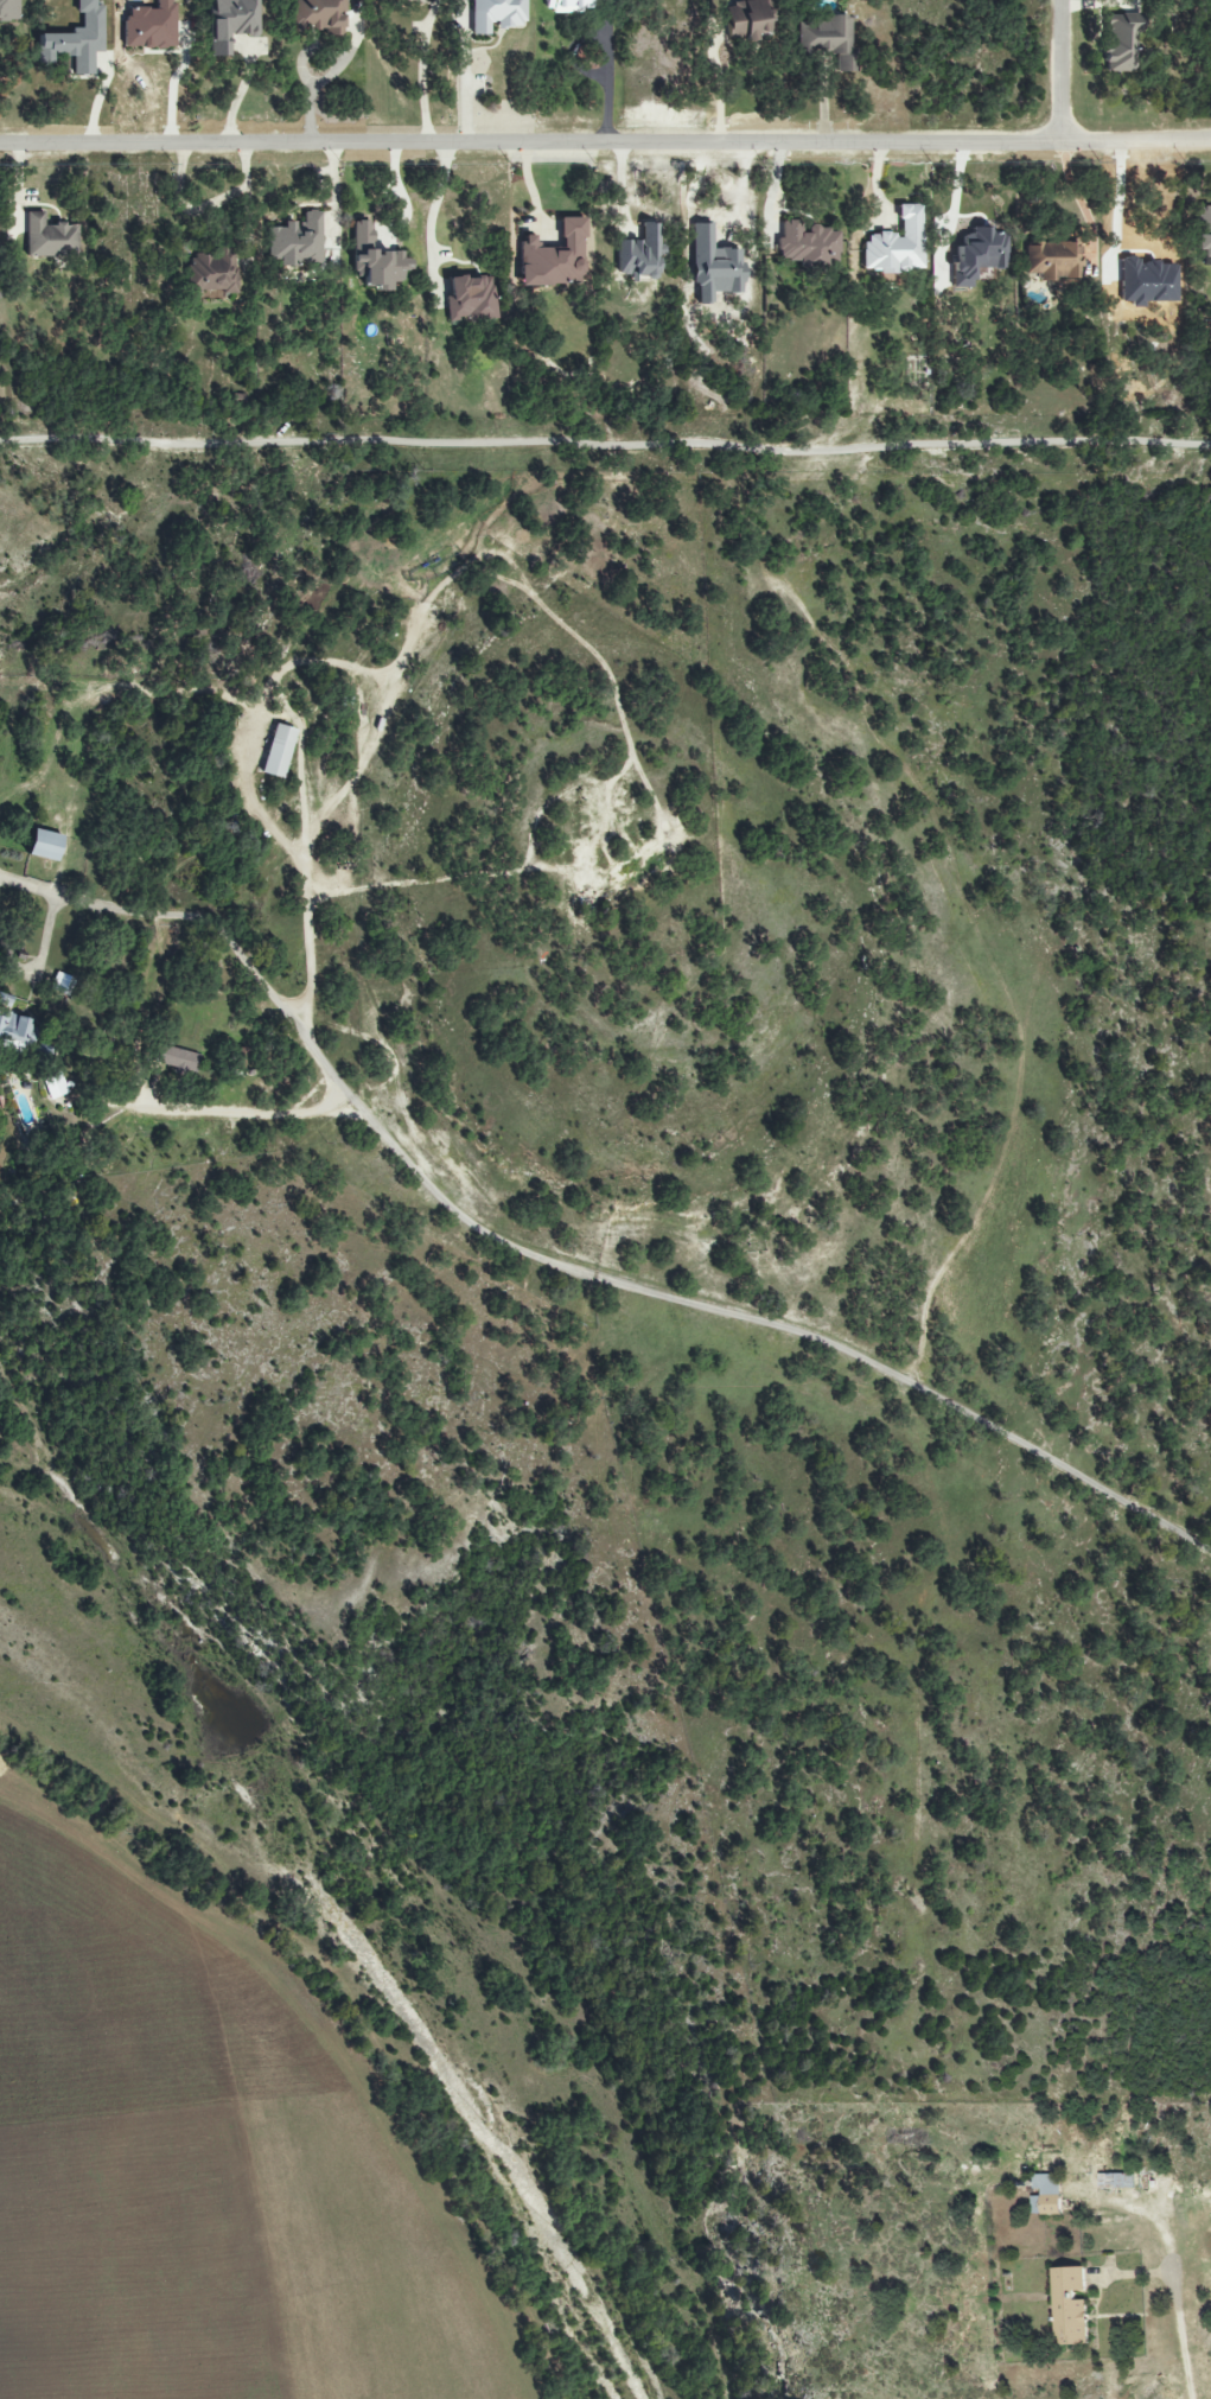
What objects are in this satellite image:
building: (567, 6)
building: (8, 9)
building: (496, 15)
building: (318, 17)
building: (747, 21)
building: (230, 23)
building: (149, 26)
building: (826, 39)
building: (76, 40)
building: (1120, 42)
road: (1064, 72)
road: (607, 74)
road: (421, 90)
road: (463, 90)
road: (716, 90)
road: (237, 96)
road: (308, 106)
road: (1137, 144)
road: (531, 146)
road: (1078, 204)
road: (205, 205)
road: (433, 209)
building: (1203, 235)
building: (49, 238)
building: (295, 242)
building: (895, 244)
building: (807, 247)
building: (639, 254)
building: (977, 255)
building: (553, 257)
building: (375, 260)
building: (1052, 261)
building: (212, 271)
building: (470, 299)
road: (605, 446)
building: (278, 751)
building: (44, 846)
road: (307, 906)
building: (17, 1033)
building: (176, 1059)
building: (53, 1087)
road: (256, 1114)
park: (740, 1234)
road: (559, 1266)
building: (1115, 2181)
building: (1049, 2193)
road: (1154, 2215)
building: (1070, 2305)
road: (1178, 2335)

